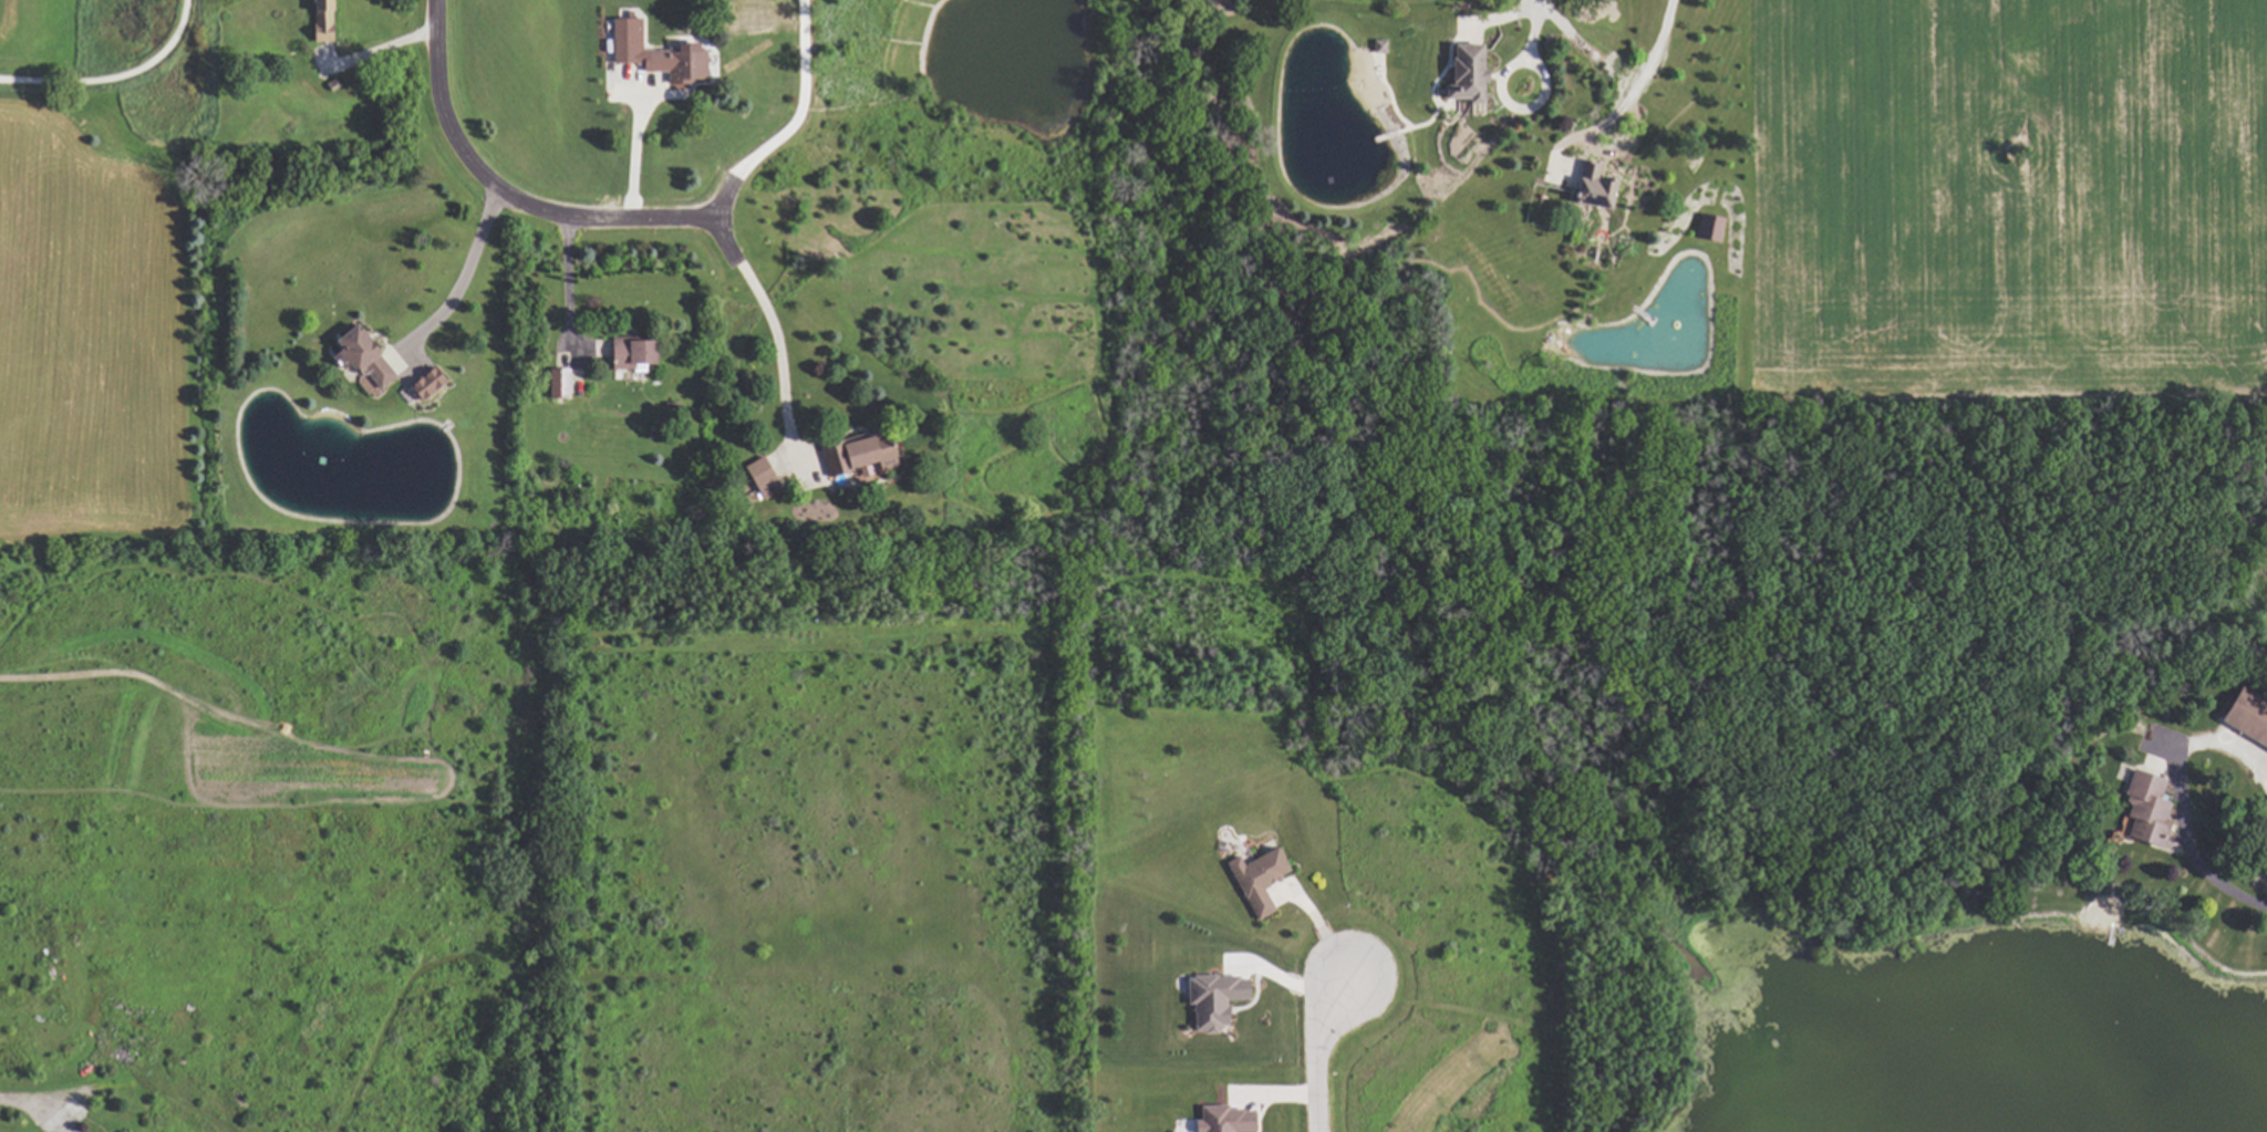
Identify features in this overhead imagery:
building: (317, 22)
road: (1535, 28)
road: (375, 50)
building: (651, 54)
building: (1461, 74)
road: (1643, 80)
road: (786, 115)
road: (632, 141)
road: (510, 183)
building: (1588, 188)
building: (1710, 229)
road: (464, 261)
road: (563, 264)
road: (768, 313)
building: (421, 384)
building: (555, 384)
building: (856, 458)
building: (758, 478)
building: (2246, 718)
building: (2141, 811)
road: (2185, 845)
building: (1253, 881)
road: (1399, 942)
building: (1209, 1000)
road: (1314, 1049)
road: (31, 1098)
building: (1219, 1120)

